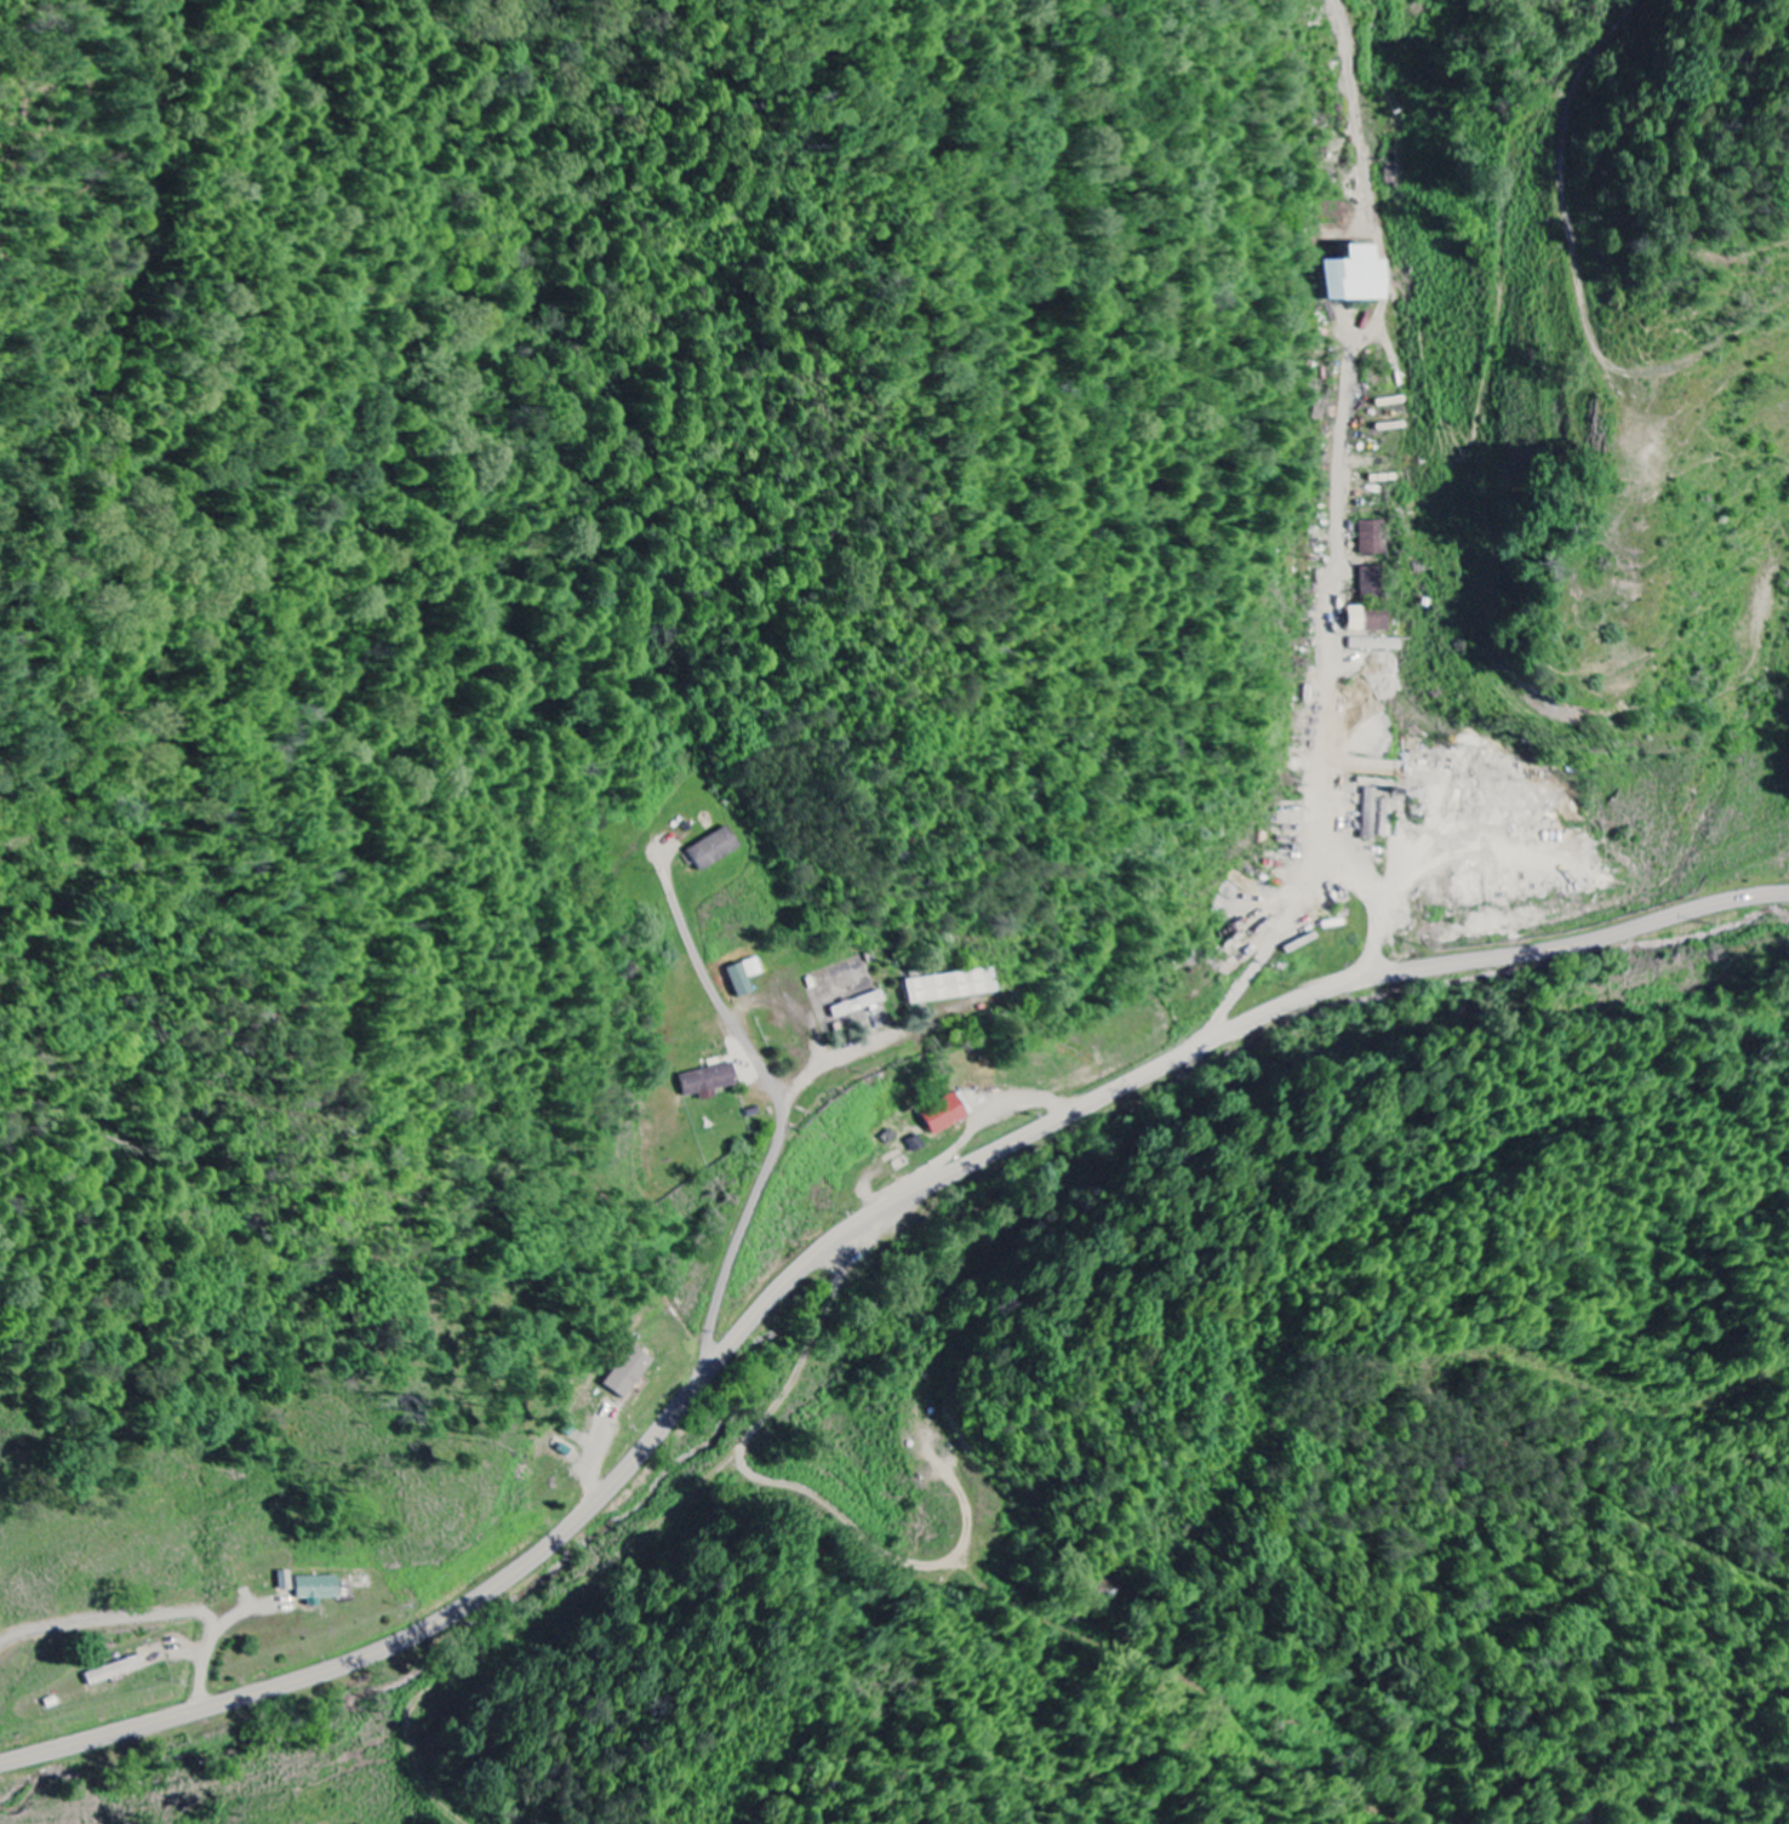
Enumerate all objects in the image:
building: (1354, 278)
building: (1372, 558)
road: (1350, 564)
building: (1370, 618)
building: (1377, 644)
building: (1370, 814)
building: (715, 848)
road: (1382, 894)
building: (745, 976)
building: (953, 987)
building: (859, 1005)
building: (709, 1081)
road: (781, 1113)
building: (948, 1113)
road: (839, 1239)
building: (630, 1373)
building: (287, 1580)
building: (319, 1589)
road: (154, 1603)

